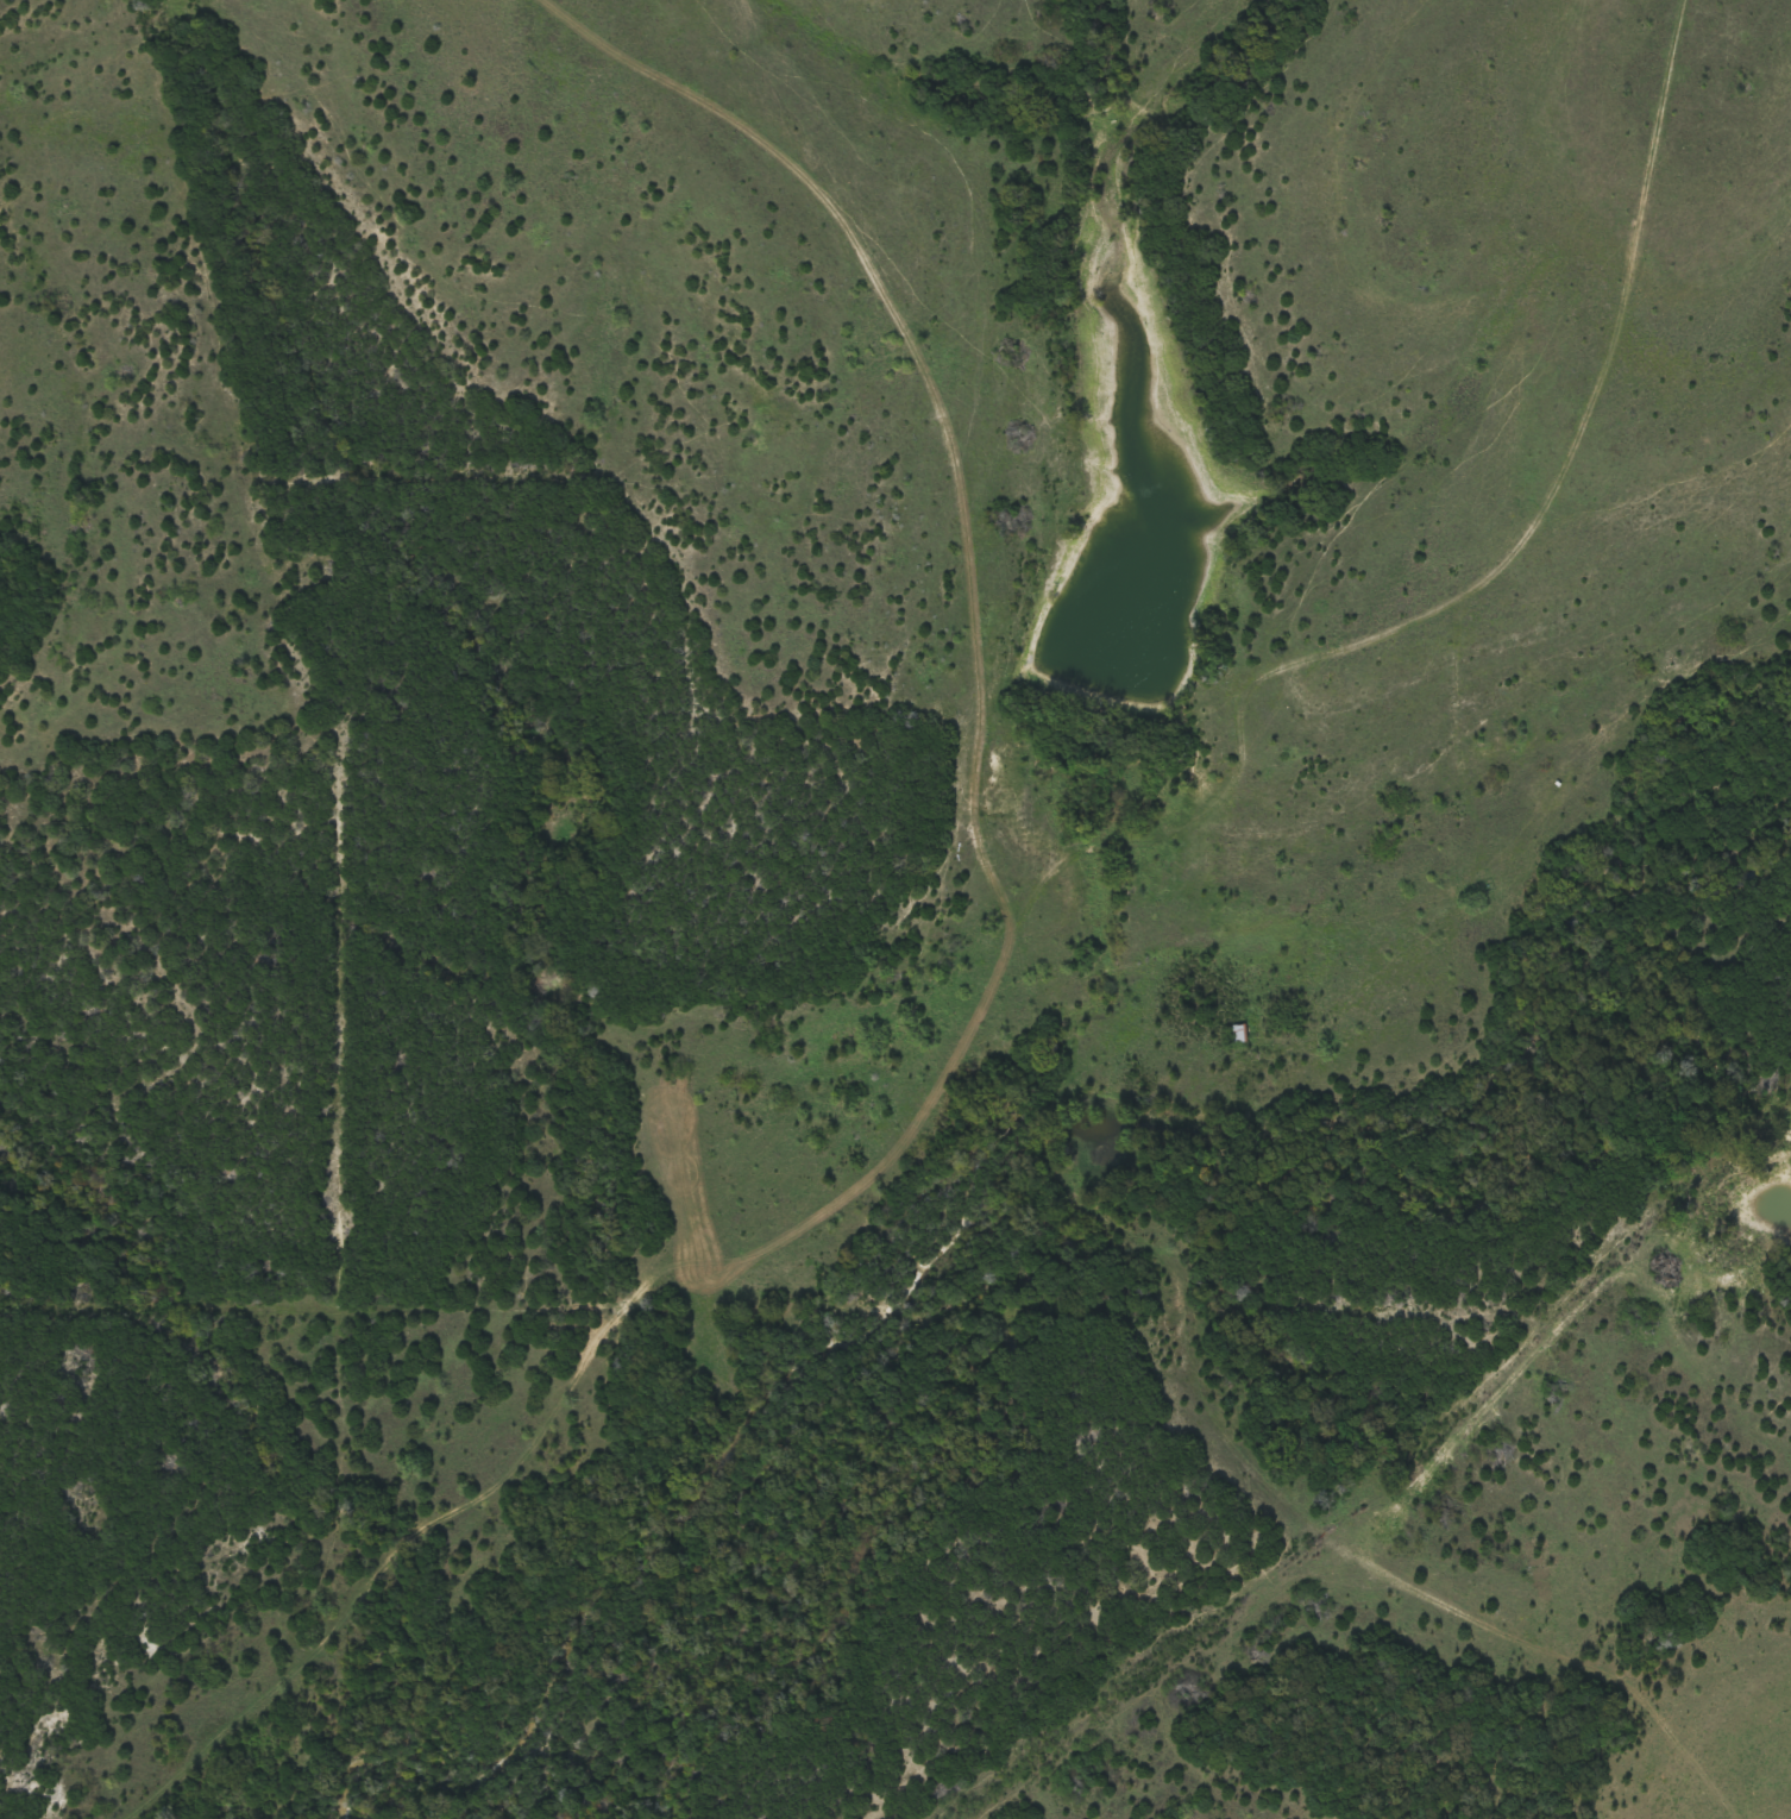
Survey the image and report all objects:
building: (1238, 1033)

